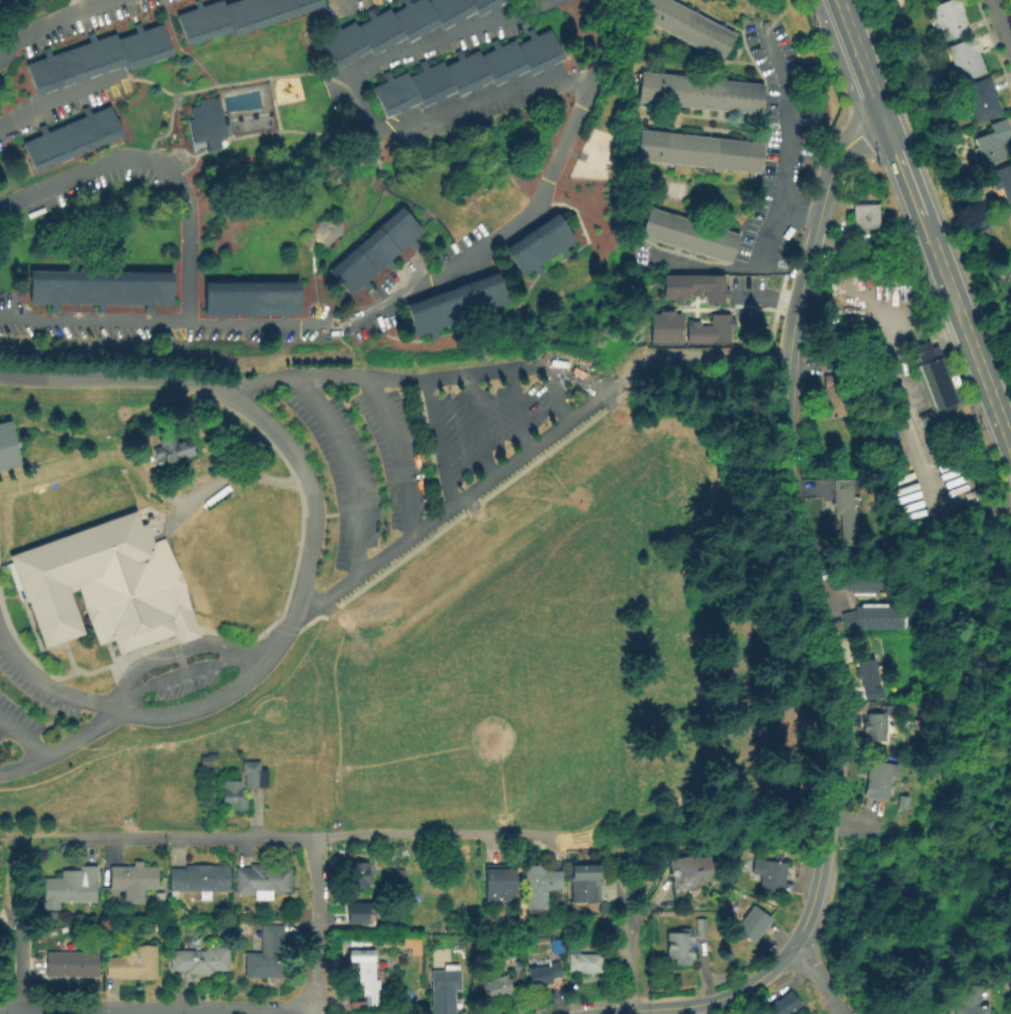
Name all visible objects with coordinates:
road: (0, 0)
building: (929, 0)
road: (837, 2)
road: (529, 3)
building: (238, 17)
building: (950, 20)
road: (1002, 20)
road: (47, 22)
building: (397, 26)
building: (686, 27)
road: (181, 48)
building: (99, 58)
building: (965, 60)
road: (860, 61)
building: (468, 72)
road: (149, 82)
road: (226, 84)
building: (701, 93)
road: (57, 99)
building: (981, 101)
road: (273, 104)
road: (361, 111)
building: (207, 123)
road: (264, 132)
building: (71, 139)
road: (372, 143)
building: (995, 145)
building: (699, 152)
road: (830, 162)
road: (160, 164)
road: (901, 168)
road: (379, 170)
building: (1001, 184)
building: (663, 190)
road: (782, 198)
road: (799, 209)
road: (428, 212)
building: (1010, 213)
road: (368, 215)
building: (865, 219)
road: (924, 229)
road: (339, 235)
building: (689, 236)
building: (543, 246)
building: (376, 253)
road: (313, 281)
building: (691, 286)
building: (100, 289)
building: (252, 300)
road: (392, 301)
building: (458, 306)
road: (906, 323)
building: (662, 326)
building: (708, 329)
road: (969, 346)
road: (686, 353)
road: (594, 388)
road: (554, 396)
building: (837, 397)
building: (934, 397)
park: (81, 408)
road: (515, 412)
road: (478, 427)
road: (436, 444)
building: (8, 447)
building: (171, 450)
road: (396, 451)
road: (913, 453)
road: (344, 465)
building: (844, 510)
building: (858, 523)
road: (795, 533)
road: (310, 550)
building: (848, 580)
building: (876, 581)
building: (105, 587)
road: (988, 611)
building: (889, 618)
building: (859, 619)
road: (176, 650)
park: (527, 659)
road: (184, 672)
building: (867, 674)
road: (52, 689)
building: (875, 729)
building: (786, 731)
road: (24, 736)
building: (207, 762)
building: (252, 775)
building: (880, 780)
building: (232, 796)
road: (627, 816)
road: (723, 819)
road: (850, 824)
road: (998, 826)
road: (883, 829)
road: (436, 834)
road: (40, 835)
road: (578, 836)
road: (195, 838)
road: (3, 840)
road: (643, 858)
road: (967, 865)
building: (689, 872)
building: (357, 874)
building: (769, 875)
road: (7, 876)
road: (878, 877)
building: (131, 880)
building: (197, 880)
building: (395, 880)
building: (260, 882)
building: (500, 883)
building: (585, 885)
building: (540, 886)
building: (69, 887)
road: (811, 890)
road: (921, 896)
building: (158, 900)
building: (357, 909)
road: (5, 914)
building: (48, 916)
building: (375, 922)
building: (752, 923)
road: (316, 925)
building: (700, 928)
road: (808, 941)
building: (409, 942)
building: (679, 946)
building: (266, 955)
road: (629, 955)
road: (20, 961)
building: (582, 961)
building: (200, 962)
building: (498, 964)
building: (71, 965)
building: (132, 965)
building: (364, 973)
road: (818, 975)
building: (545, 976)
building: (445, 989)
building: (498, 989)
road: (726, 993)
building: (968, 1001)
building: (785, 1006)
road: (699, 1008)
road: (11, 1009)
road: (637, 1009)
road: (169, 1011)
road: (646, 1011)
road: (617, 1012)
road: (316, 1013)

